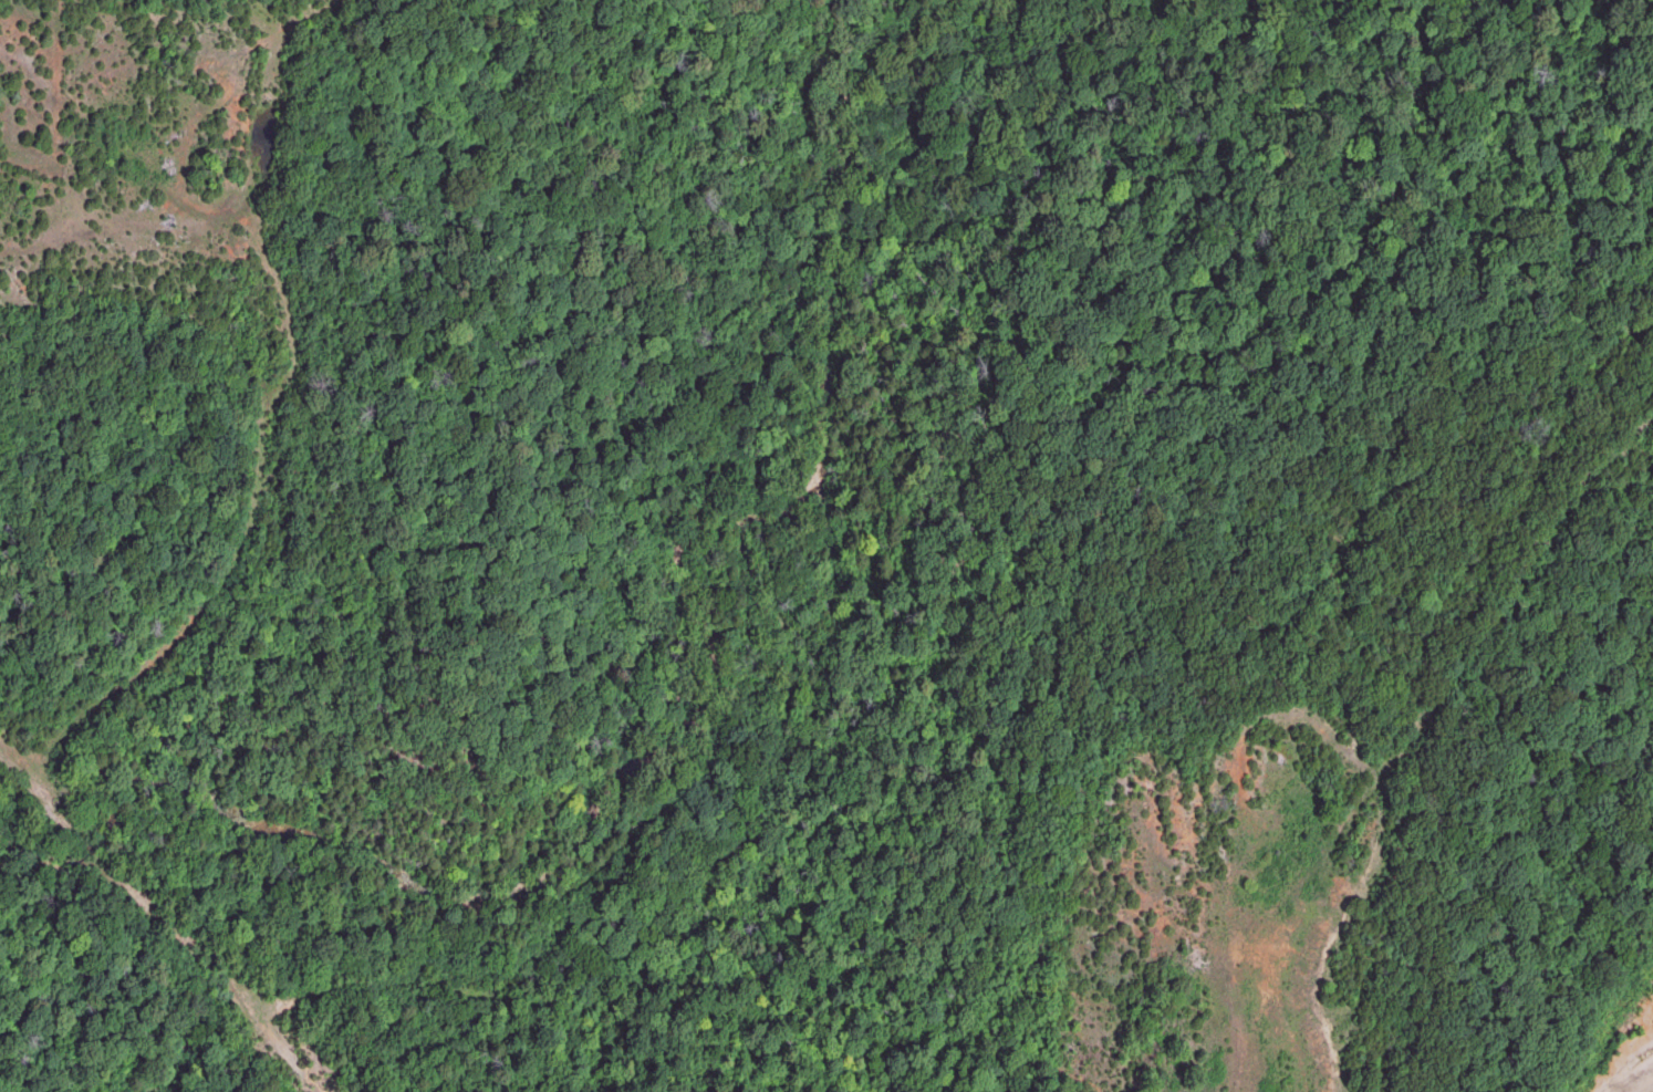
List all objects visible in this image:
road: (133, 882)
road: (297, 1057)

